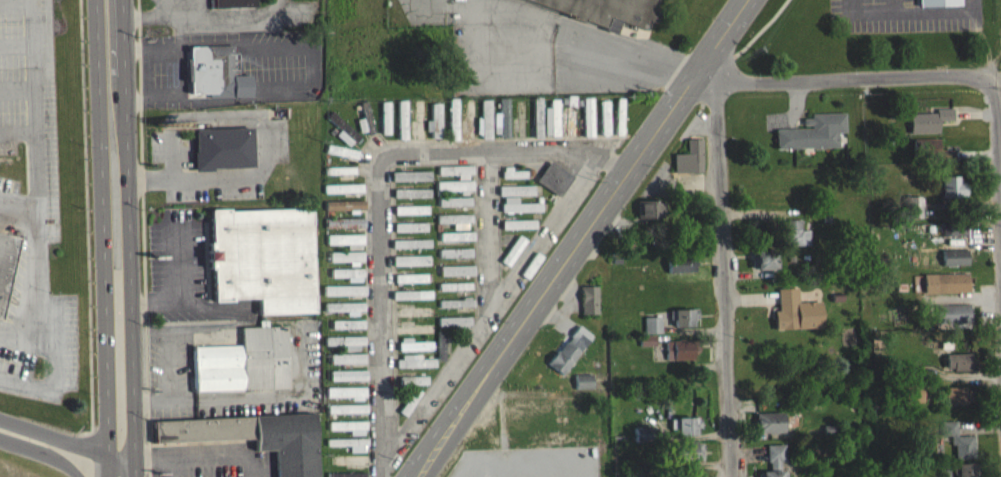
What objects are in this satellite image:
road: (31, 1)
building: (938, 1)
road: (16, 3)
building: (233, 3)
road: (894, 5)
building: (607, 9)
road: (910, 10)
parking lot: (903, 15)
road: (149, 16)
road: (750, 40)
road: (16, 42)
road: (632, 63)
building: (211, 68)
road: (182, 70)
road: (836, 78)
road: (17, 90)
road: (793, 111)
road: (974, 112)
building: (571, 114)
building: (620, 114)
building: (503, 115)
building: (537, 115)
building: (554, 115)
building: (588, 115)
building: (605, 115)
building: (928, 119)
parking lot: (28, 121)
building: (469, 121)
building: (384, 122)
building: (401, 124)
building: (418, 124)
building: (452, 124)
building: (483, 125)
building: (434, 126)
building: (364, 129)
road: (18, 130)
building: (813, 130)
building: (343, 135)
building: (223, 147)
building: (929, 147)
road: (975, 152)
road: (998, 153)
building: (690, 155)
building: (514, 172)
road: (37, 173)
building: (455, 176)
building: (554, 177)
building: (410, 180)
building: (952, 186)
building: (516, 188)
building: (453, 191)
road: (380, 192)
building: (411, 197)
road: (961, 204)
road: (19, 205)
building: (521, 205)
building: (913, 205)
building: (453, 206)
building: (649, 207)
road: (768, 209)
building: (344, 210)
building: (518, 211)
building: (410, 214)
road: (104, 215)
road: (143, 221)
building: (519, 222)
building: (454, 225)
building: (954, 226)
building: (344, 228)
road: (983, 228)
building: (518, 229)
building: (405, 231)
building: (794, 232)
road: (486, 233)
building: (953, 233)
road: (971, 237)
road: (128, 238)
road: (579, 238)
building: (456, 241)
building: (348, 244)
building: (401, 248)
building: (513, 248)
building: (954, 255)
building: (264, 257)
building: (454, 257)
building: (763, 257)
building: (681, 260)
building: (346, 261)
building: (6, 262)
building: (531, 263)
building: (403, 265)
road: (749, 273)
building: (456, 275)
building: (347, 278)
road: (723, 278)
building: (952, 280)
building: (410, 283)
building: (454, 291)
building: (344, 295)
road: (751, 296)
building: (589, 298)
building: (411, 299)
building: (455, 307)
building: (795, 309)
road: (489, 311)
building: (951, 311)
building: (345, 312)
building: (683, 314)
building: (413, 317)
building: (653, 323)
building: (453, 326)
parking lot: (37, 329)
building: (347, 329)
road: (692, 330)
road: (680, 334)
building: (647, 338)
building: (345, 346)
building: (681, 347)
building: (569, 348)
building: (413, 350)
building: (959, 360)
building: (245, 361)
building: (347, 363)
building: (413, 366)
road: (53, 369)
building: (913, 375)
road: (971, 377)
building: (583, 379)
building: (347, 380)
building: (407, 385)
building: (913, 391)
building: (957, 393)
building: (345, 397)
building: (529, 412)
building: (346, 413)
building: (769, 420)
building: (685, 423)
road: (979, 424)
road: (40, 431)
building: (348, 431)
building: (644, 433)
road: (759, 434)
road: (691, 435)
building: (256, 436)
building: (958, 438)
road: (96, 440)
building: (348, 448)
building: (685, 449)
road: (43, 451)
road: (748, 452)
road: (110, 453)
road: (111, 455)
road: (149, 460)
building: (774, 460)
parking lot: (212, 461)
building: (351, 464)
building: (965, 468)
building: (347, 473)
building: (636, 473)
building: (688, 473)
building: (700, 476)

